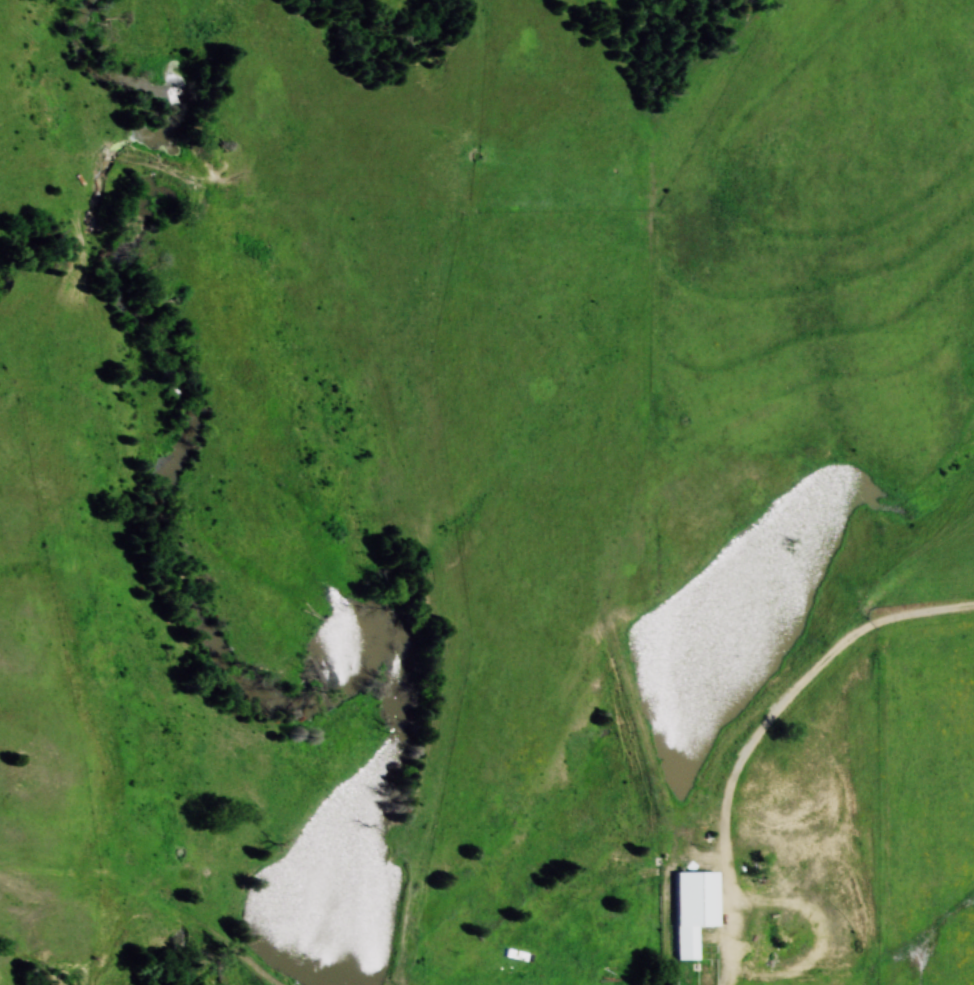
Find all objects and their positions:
road: (813, 668)
building: (539, 910)
building: (692, 910)

